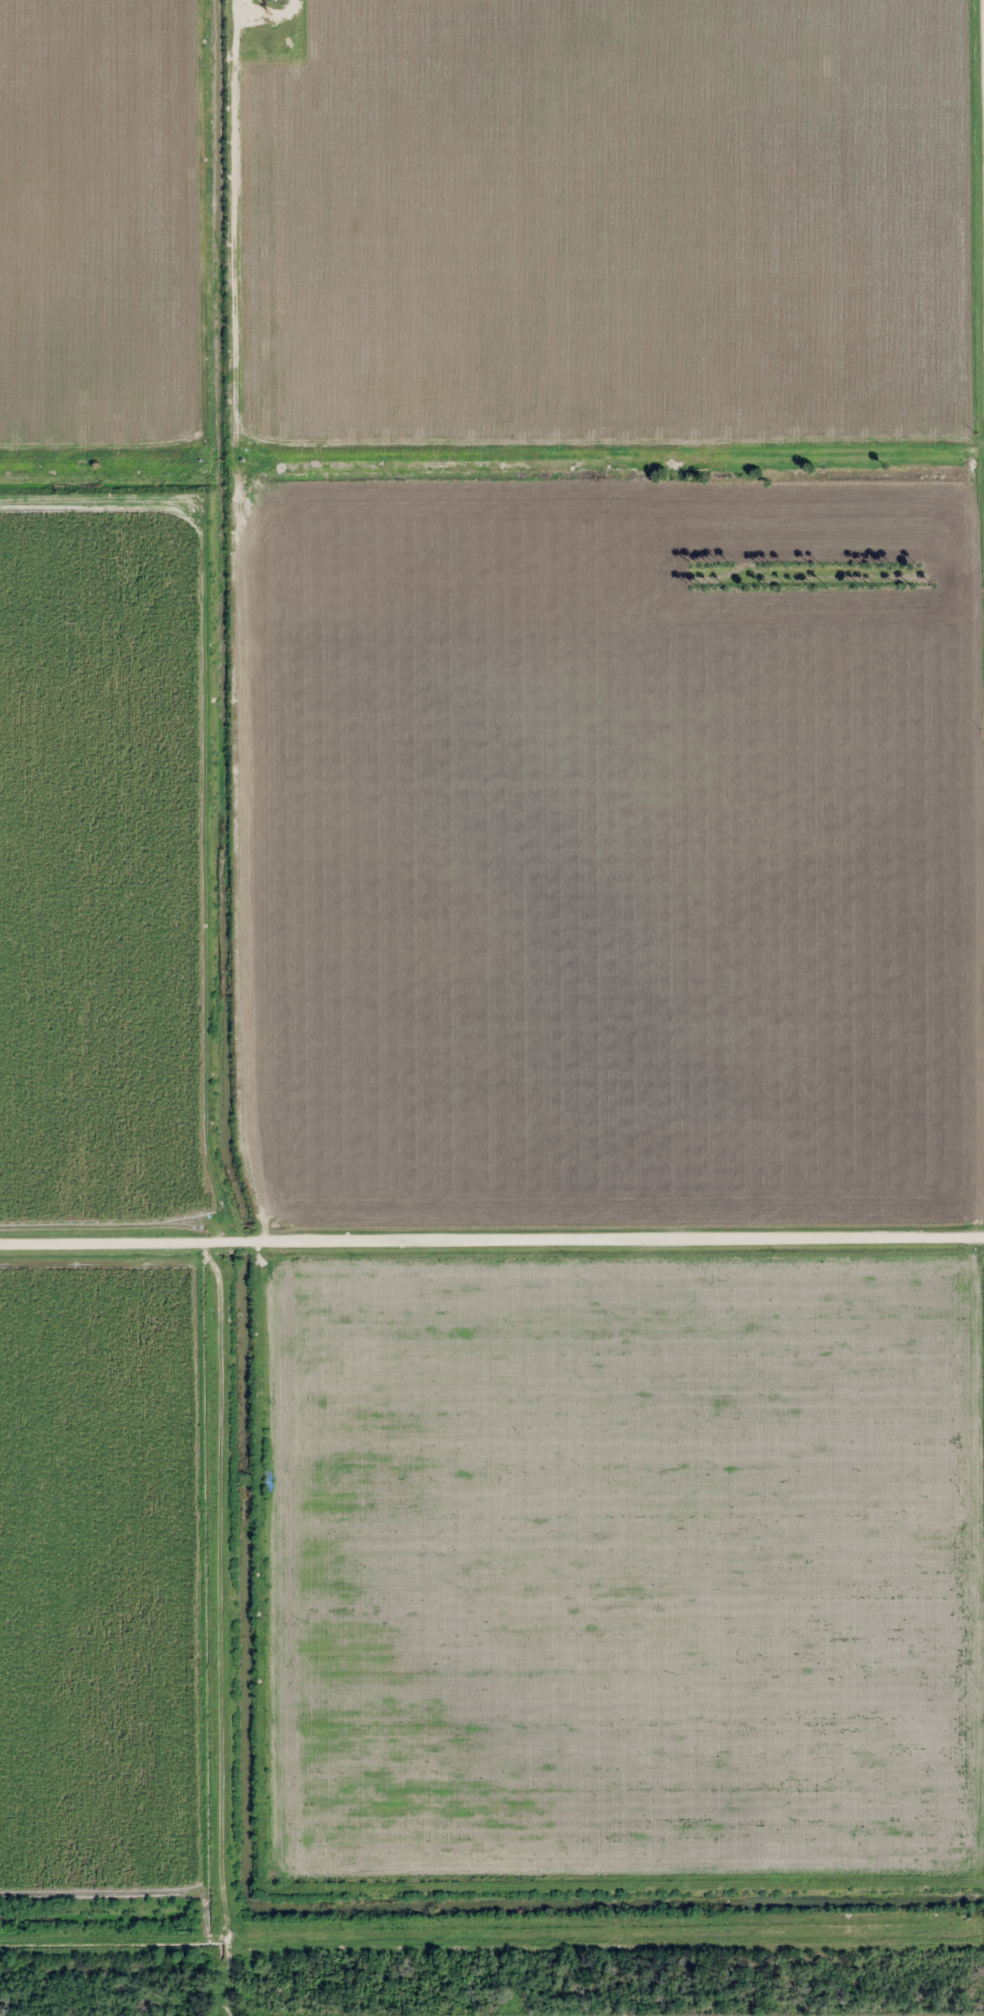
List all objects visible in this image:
road: (492, 1239)

